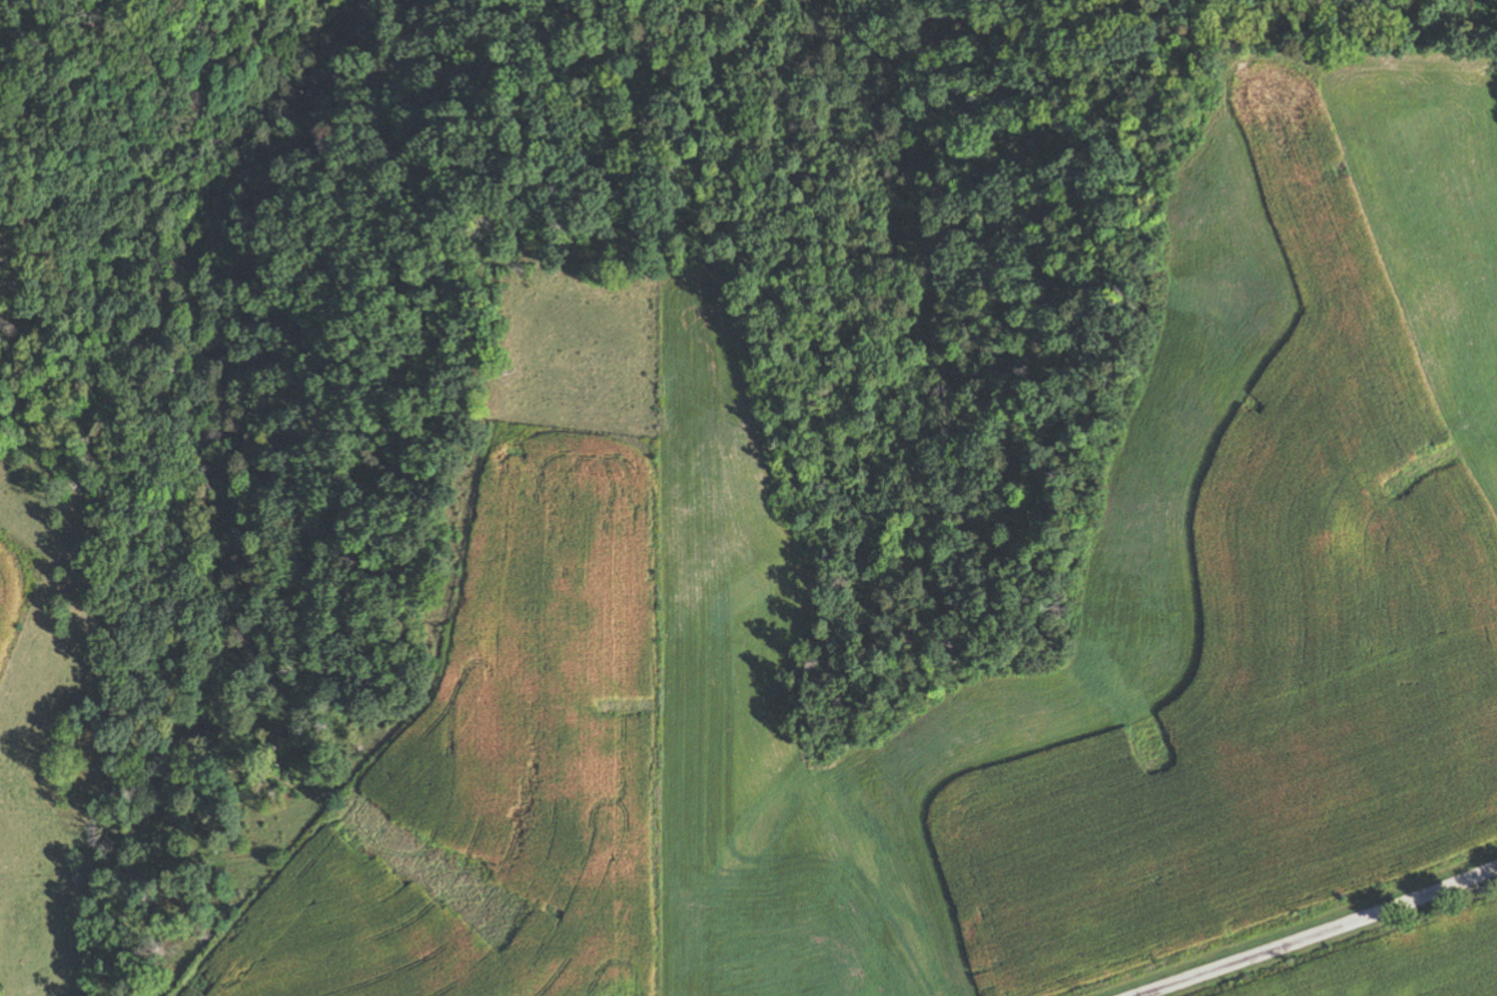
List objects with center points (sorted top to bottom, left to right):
road: (1311, 934)

